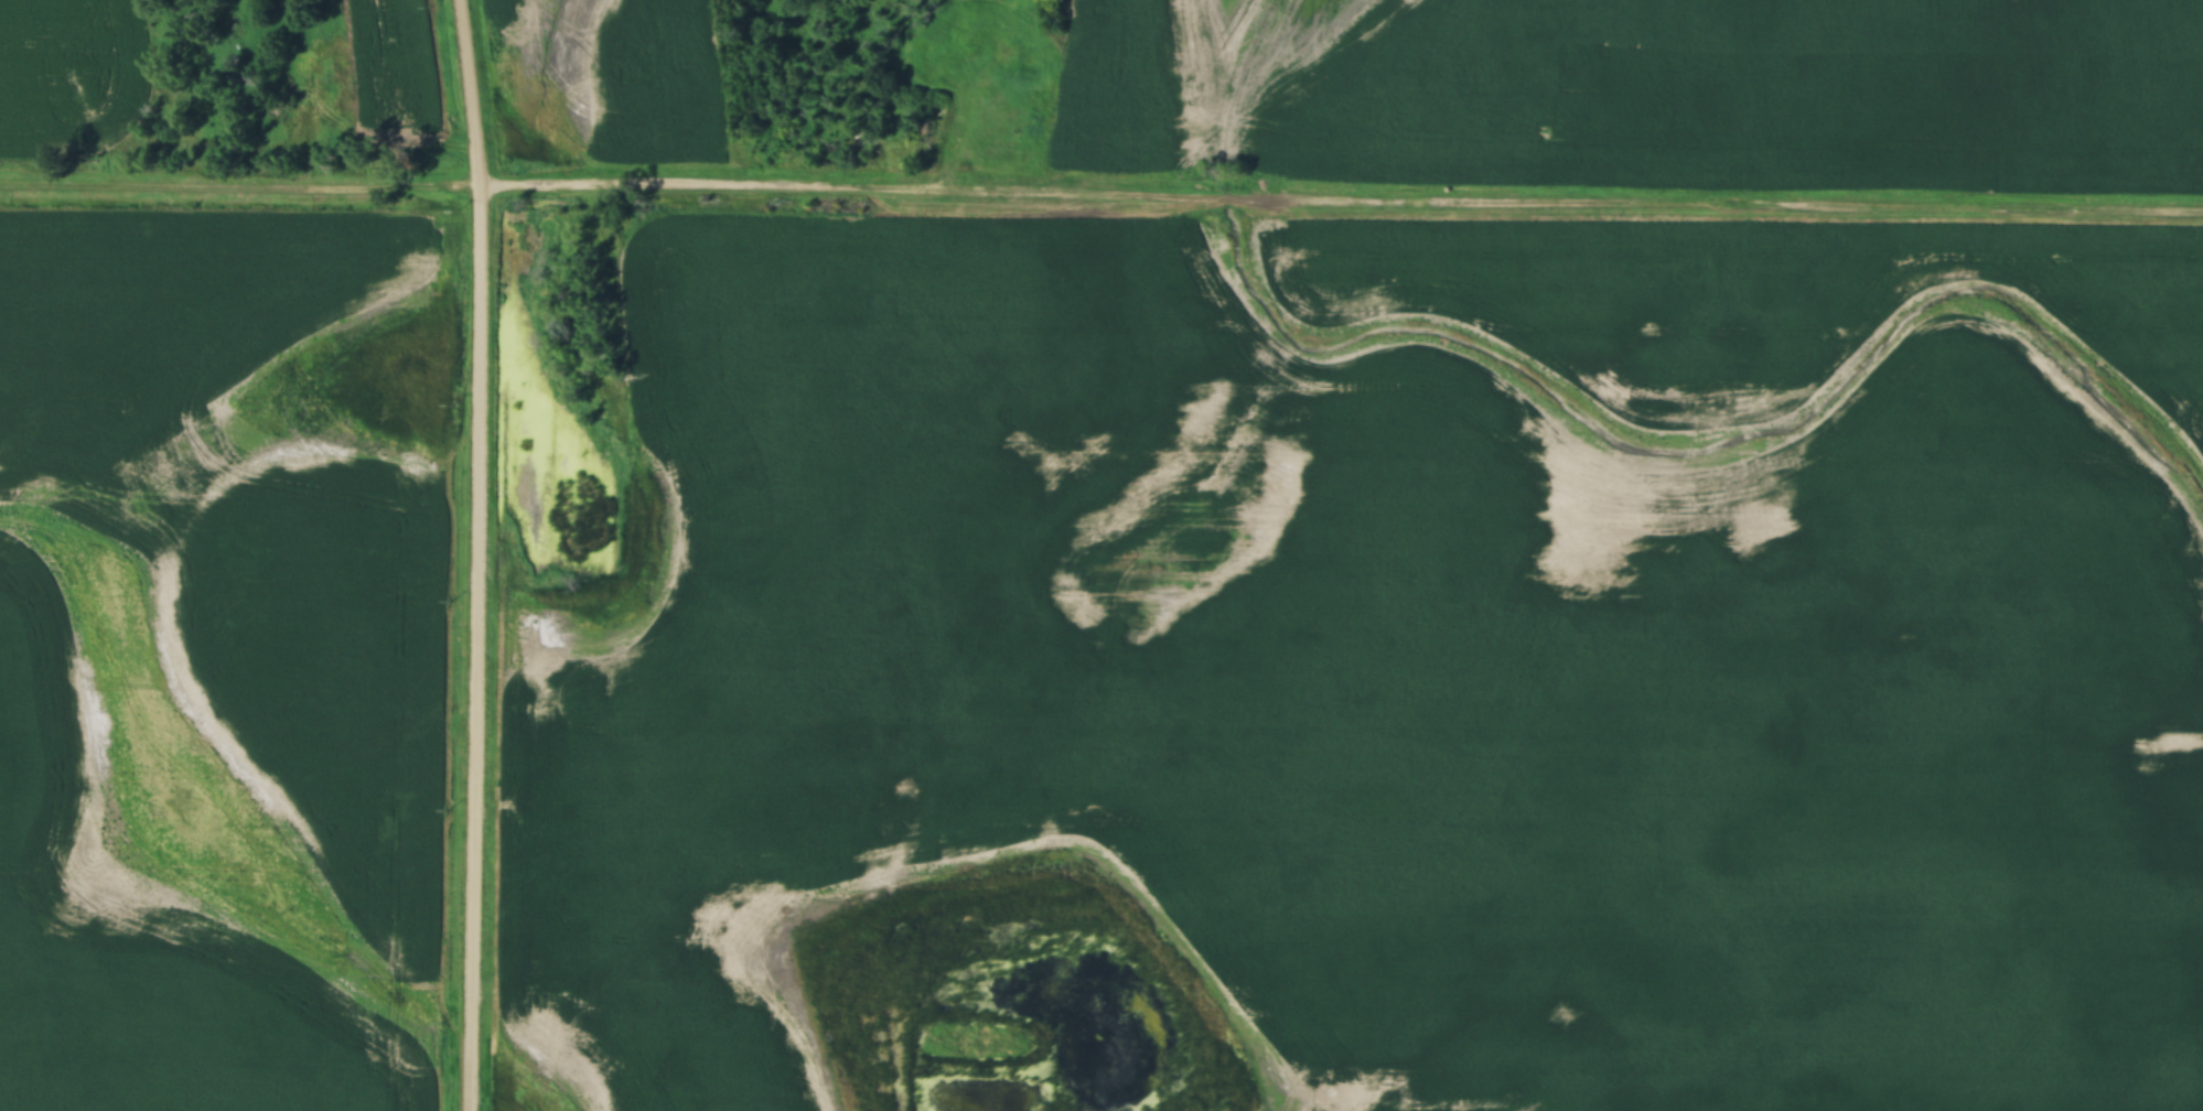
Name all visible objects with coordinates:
road: (239, 186)
road: (1342, 204)
road: (474, 554)

